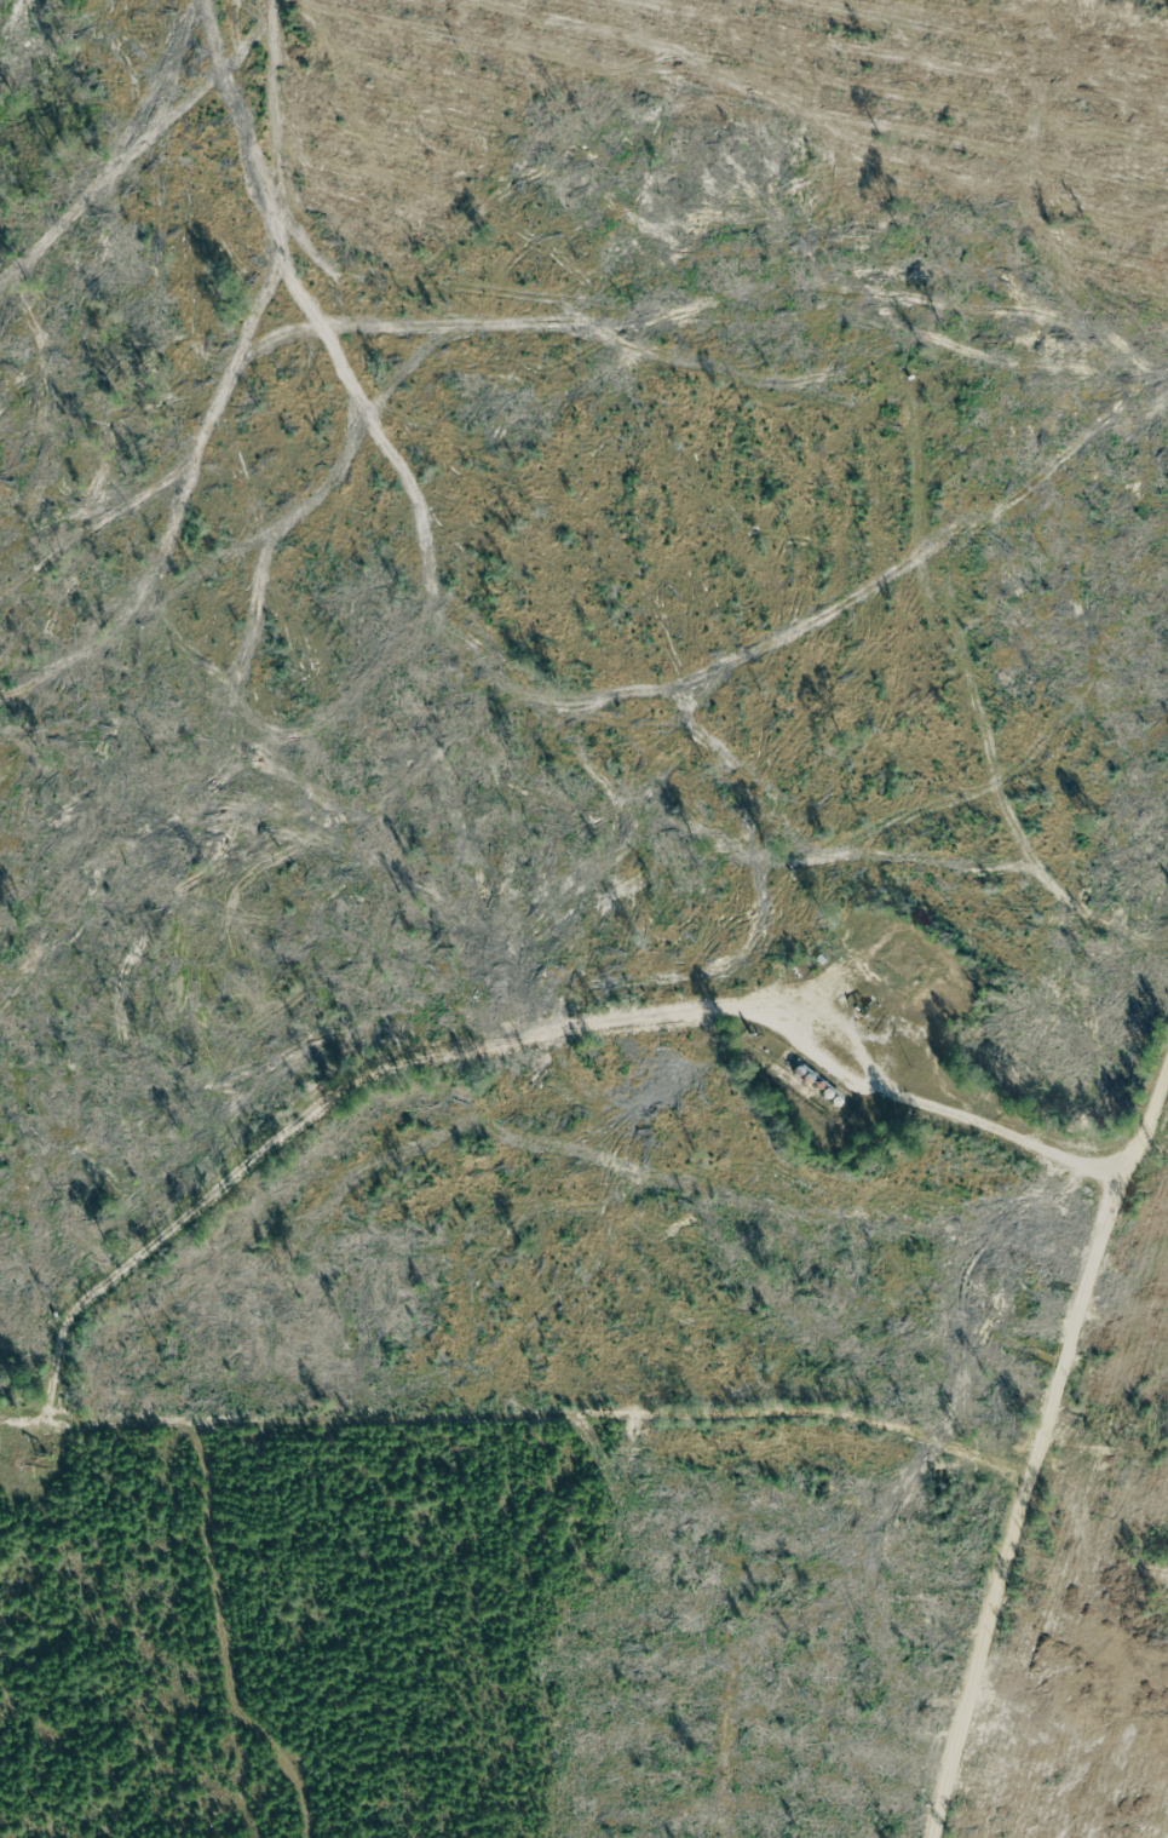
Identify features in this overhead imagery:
road: (1047, 1441)

